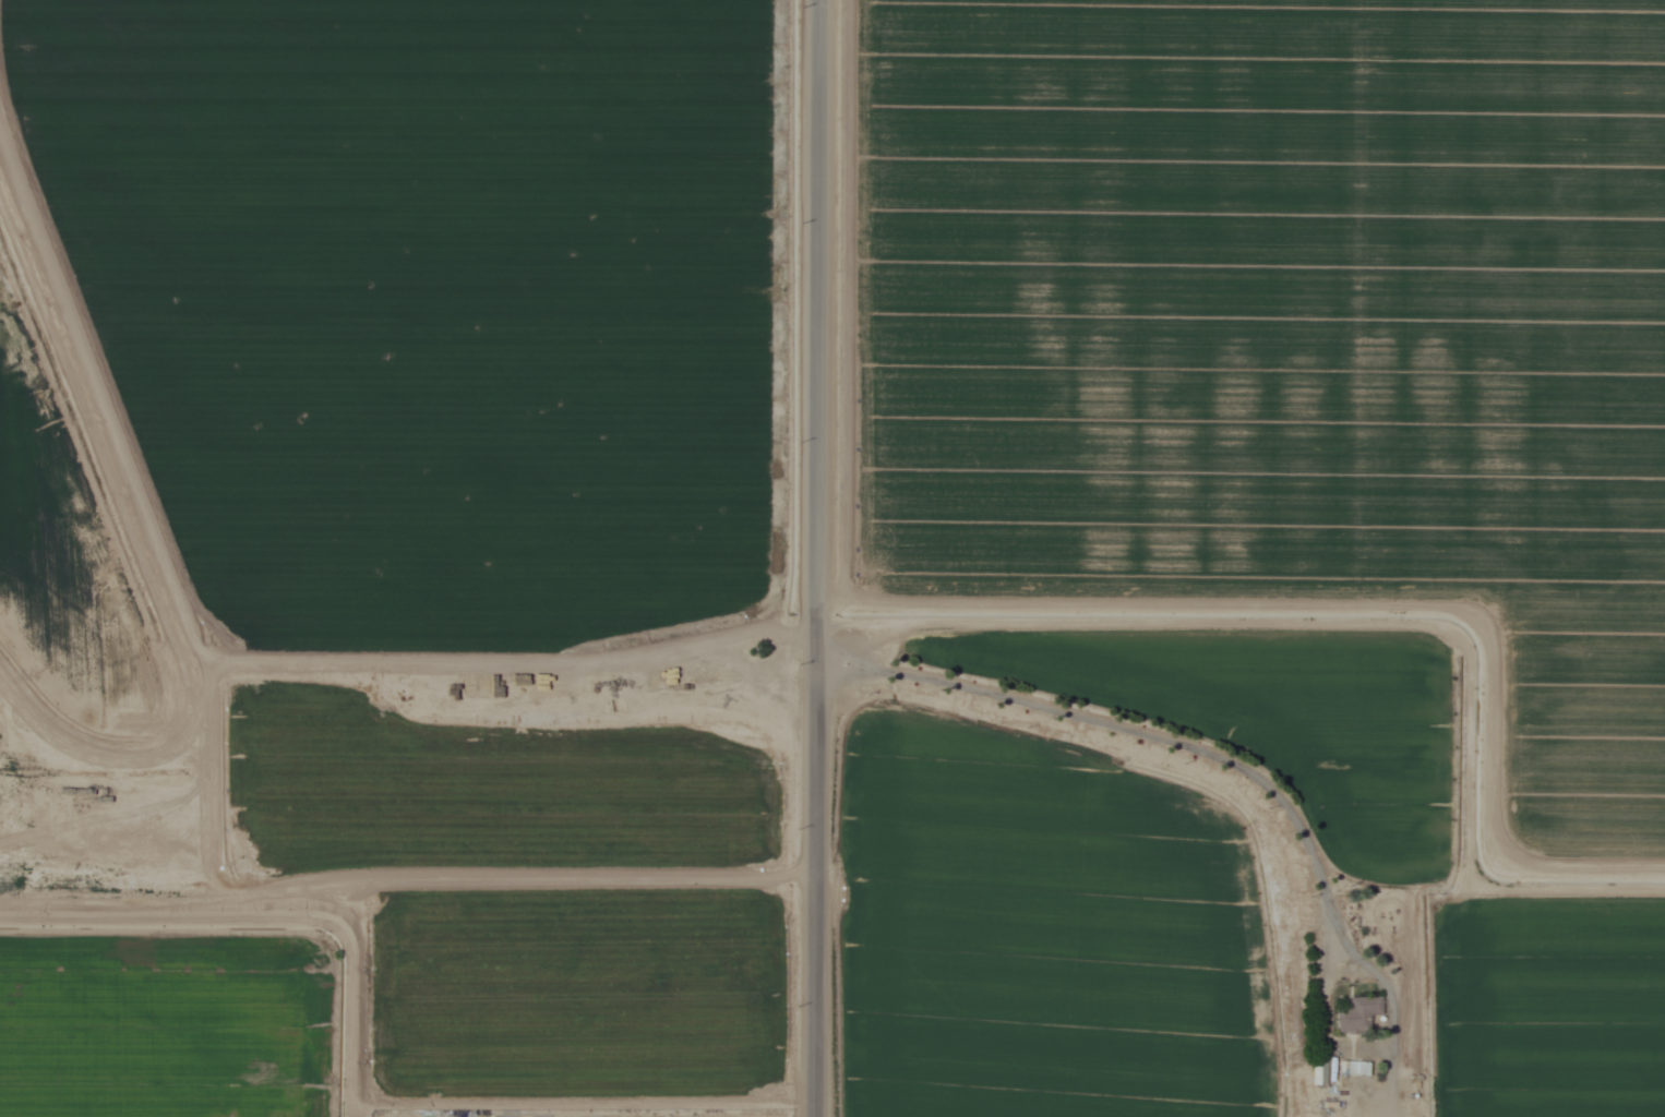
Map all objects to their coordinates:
road: (829, 557)
building: (1359, 1013)
building: (1334, 1071)

